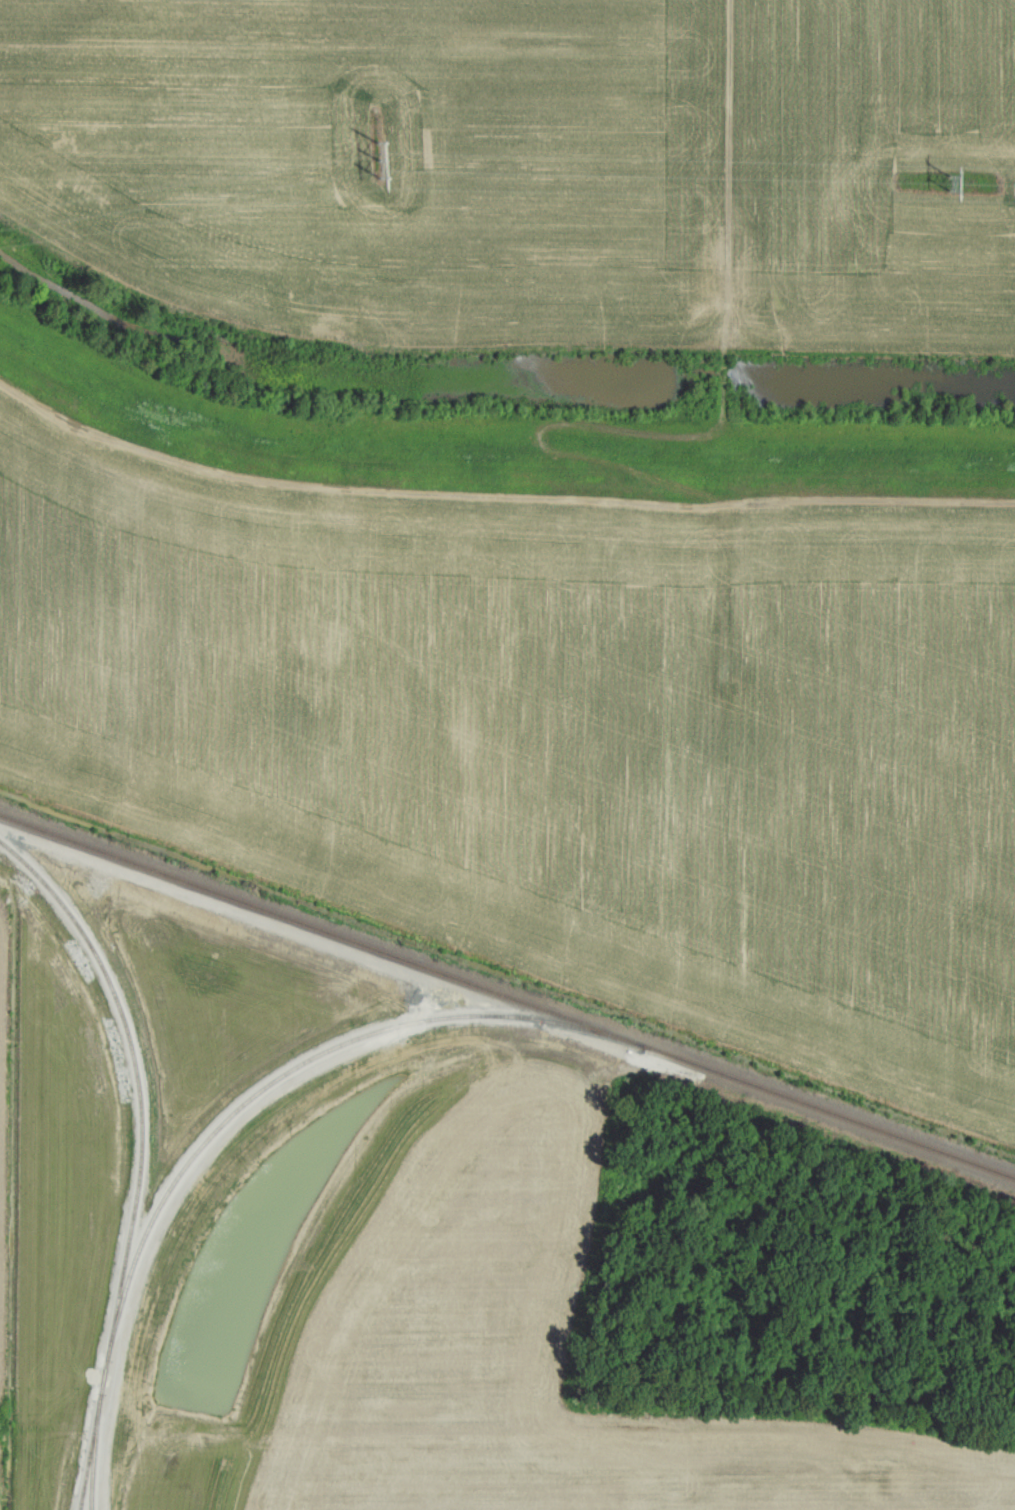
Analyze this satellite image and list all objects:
power tower: (378, 165)
power tower: (949, 186)
road: (725, 415)
road: (864, 439)
road: (497, 496)
road: (22, 871)
railway: (507, 995)
road: (13, 1190)

